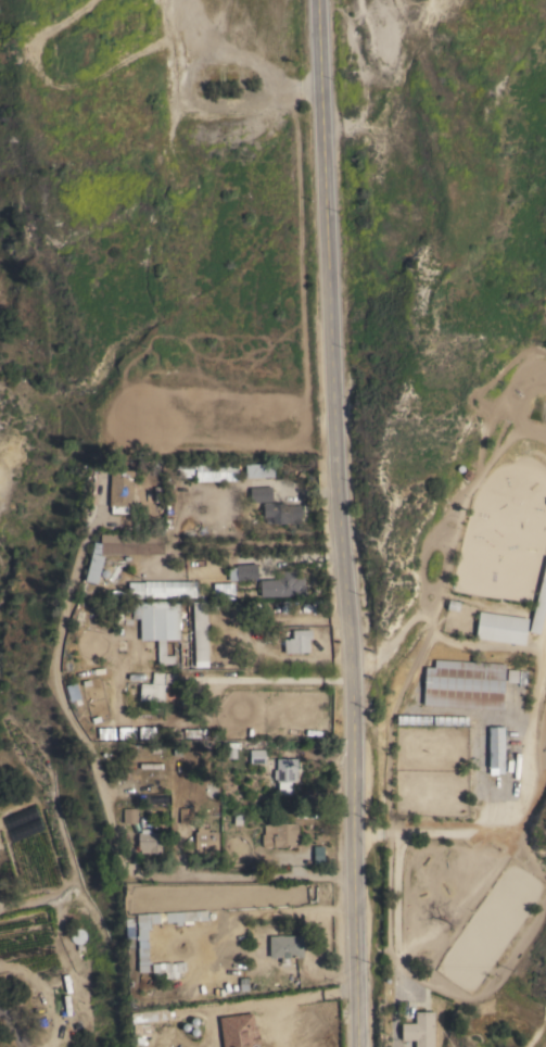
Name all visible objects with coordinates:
park: (166, 64)
building: (232, 77)
building: (186, 465)
building: (460, 468)
building: (261, 470)
building: (468, 475)
building: (122, 490)
building: (261, 494)
building: (282, 513)
road: (342, 523)
building: (136, 542)
building: (246, 571)
building: (104, 572)
building: (283, 584)
building: (137, 594)
building: (454, 605)
building: (539, 606)
building: (114, 616)
building: (128, 621)
building: (190, 628)
building: (501, 628)
building: (155, 630)
building: (299, 641)
building: (512, 676)
building: (465, 684)
road: (535, 686)
road: (206, 688)
building: (153, 689)
building: (414, 719)
building: (449, 720)
building: (127, 733)
building: (148, 733)
building: (106, 734)
building: (496, 749)
building: (257, 756)
building: (285, 773)
road: (100, 782)
building: (129, 816)
building: (186, 816)
building: (281, 834)
building: (149, 841)
building: (206, 841)
building: (320, 855)
road: (395, 892)
road: (274, 912)
building: (28, 935)
building: (79, 943)
building: (285, 947)
building: (144, 949)
road: (319, 957)
road: (289, 1004)
road: (14, 1024)
building: (420, 1030)
road: (136, 1032)

